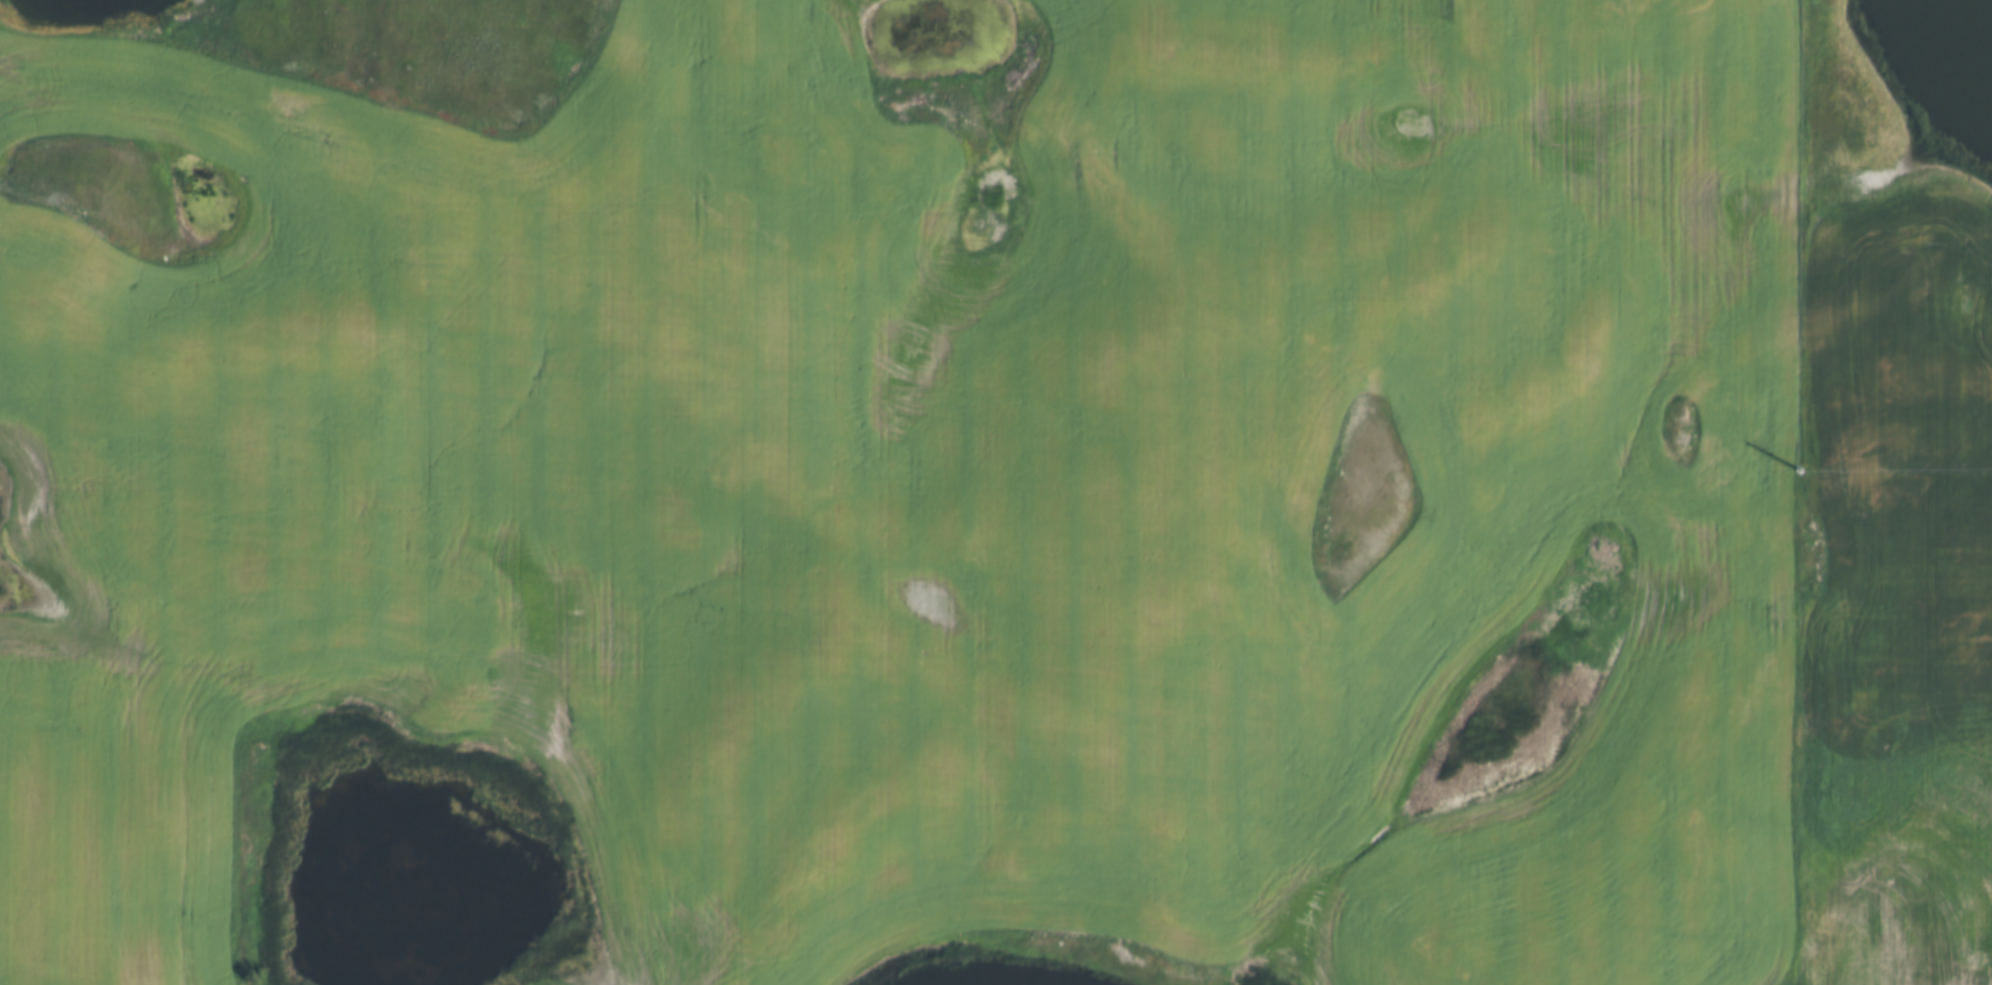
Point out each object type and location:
road: (6, 622)

